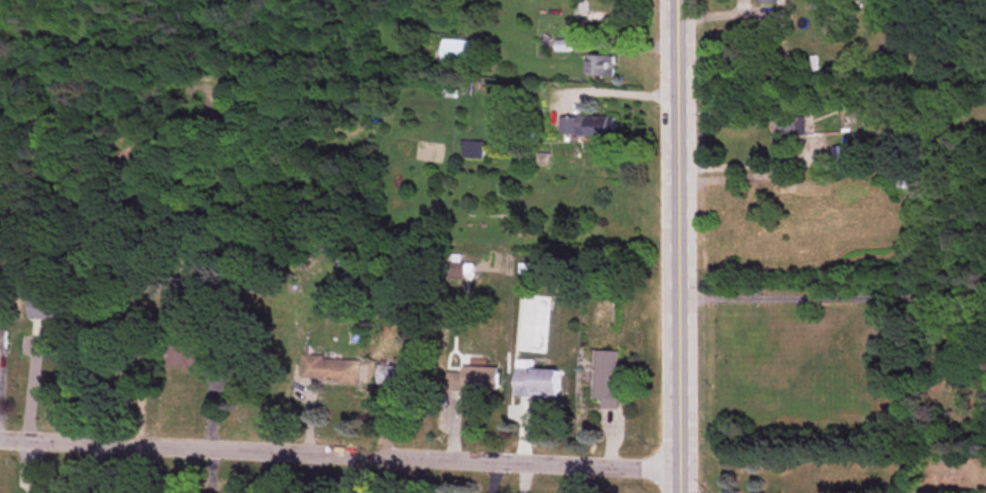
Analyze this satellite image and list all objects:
building: (770, 2)
building: (456, 52)
building: (600, 65)
road: (623, 93)
building: (584, 126)
building: (784, 133)
building: (472, 149)
building: (902, 180)
road: (678, 246)
road: (832, 297)
building: (52, 308)
building: (124, 331)
building: (3, 340)
building: (193, 357)
building: (330, 370)
building: (401, 376)
building: (606, 378)
building: (470, 379)
building: (534, 381)
road: (30, 386)
road: (339, 454)

